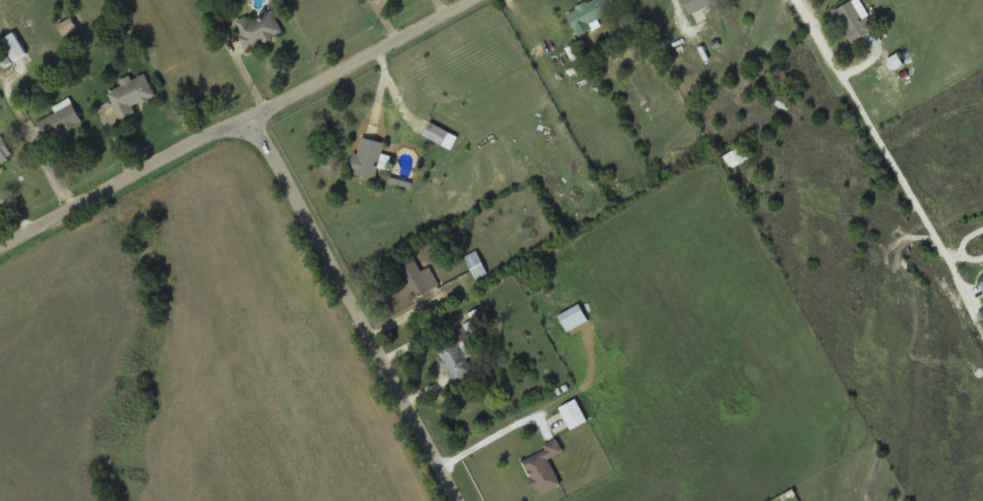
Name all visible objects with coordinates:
building: (697, 5)
building: (593, 11)
building: (857, 22)
building: (67, 25)
building: (259, 28)
building: (13, 45)
building: (130, 96)
building: (61, 118)
road: (238, 126)
building: (440, 135)
road: (883, 151)
building: (5, 153)
building: (736, 156)
building: (367, 157)
building: (476, 264)
building: (418, 278)
building: (982, 282)
road: (359, 310)
building: (572, 317)
building: (455, 358)
building: (573, 414)
building: (544, 467)

